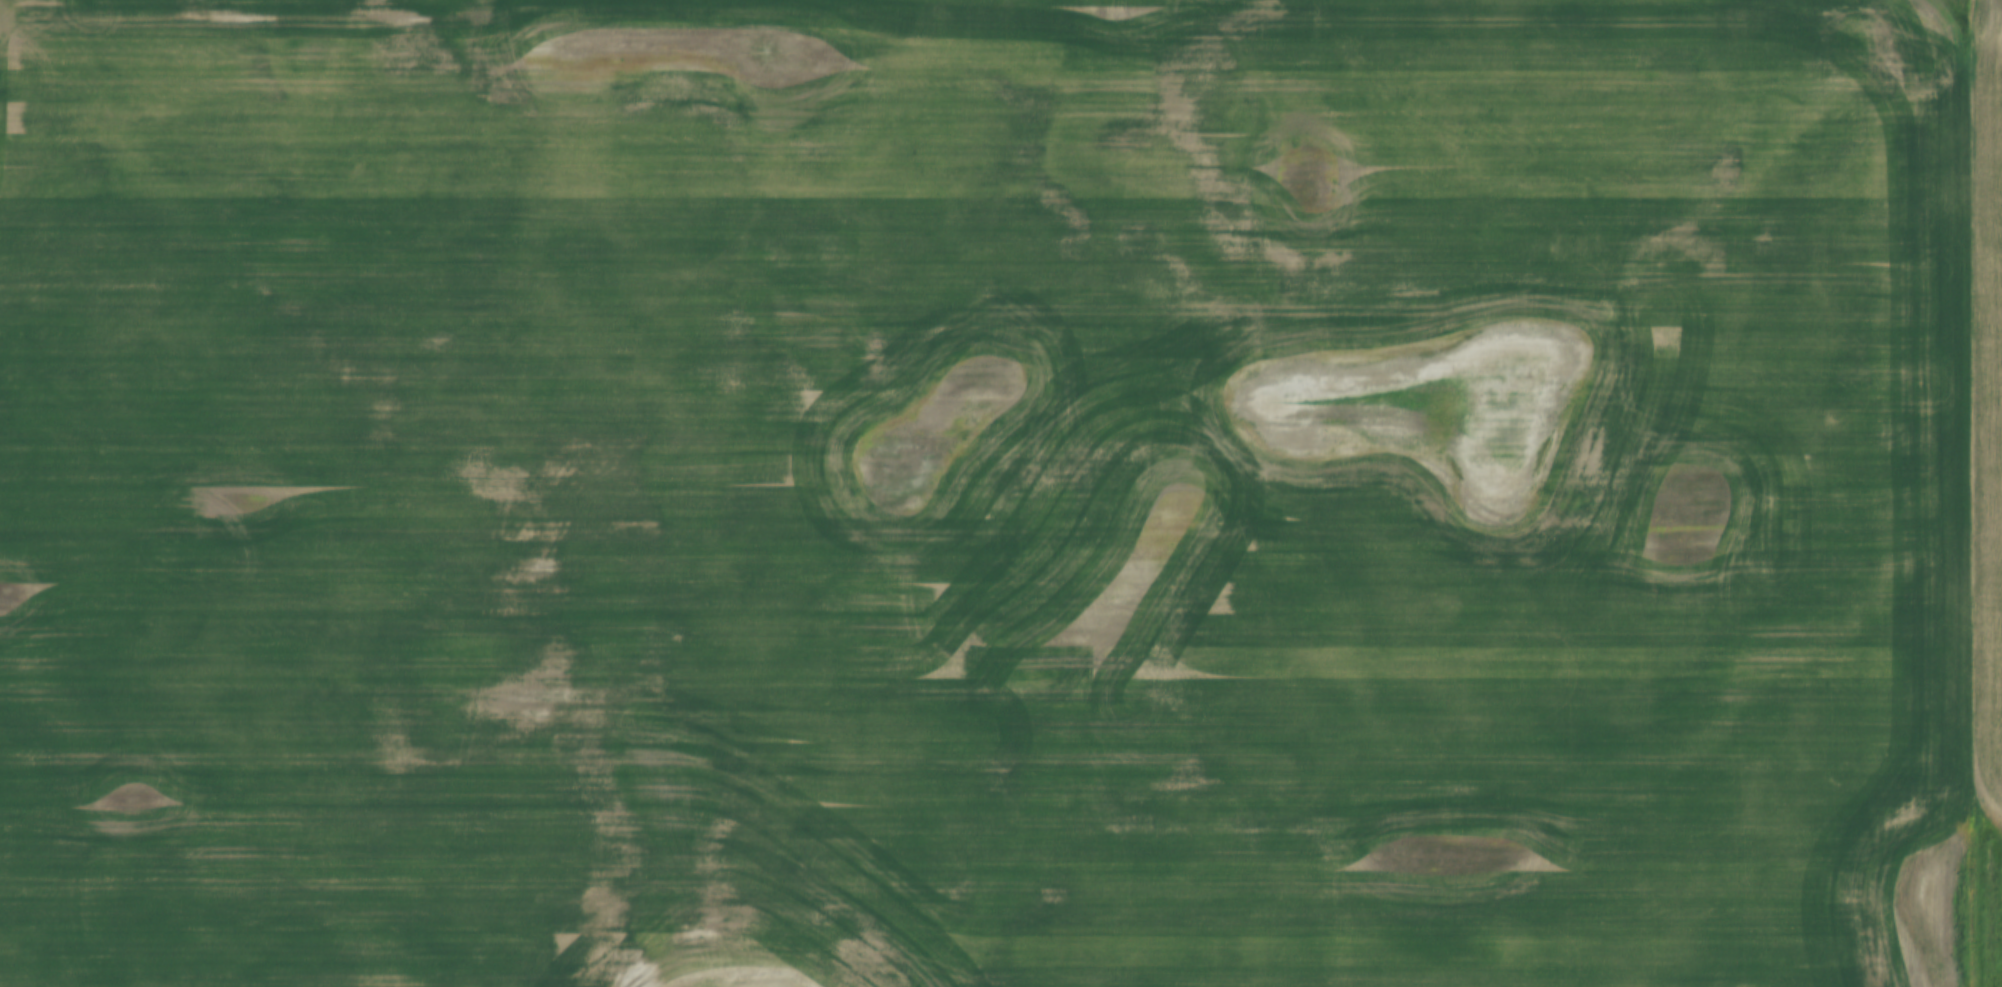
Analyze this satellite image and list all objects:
road: (1977, 493)

